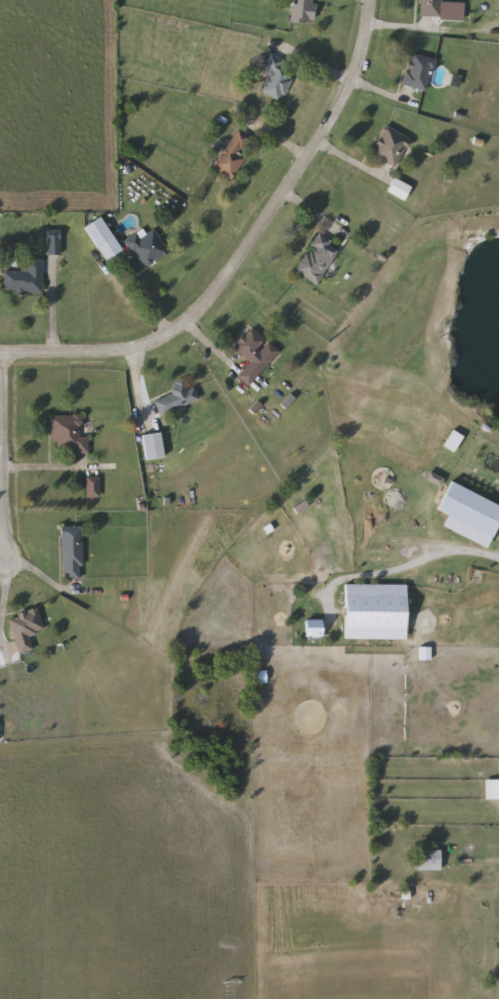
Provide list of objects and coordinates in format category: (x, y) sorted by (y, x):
building: (428, 8)
building: (302, 11)
road: (403, 30)
road: (315, 67)
building: (418, 72)
building: (279, 75)
road: (276, 138)
building: (390, 146)
building: (233, 154)
road: (353, 165)
road: (312, 215)
building: (103, 239)
building: (53, 244)
building: (147, 247)
road: (244, 251)
building: (317, 259)
building: (25, 278)
road: (146, 301)
road: (52, 306)
road: (205, 341)
road: (1, 352)
building: (254, 354)
road: (136, 388)
building: (177, 397)
road: (2, 426)
building: (67, 433)
building: (453, 440)
building: (153, 446)
road: (4, 453)
road: (48, 470)
road: (2, 497)
building: (469, 509)
building: (72, 554)
road: (3, 555)
road: (396, 566)
road: (46, 579)
road: (4, 597)
building: (375, 612)
building: (25, 629)
building: (492, 789)
building: (427, 860)
road: (473, 865)

